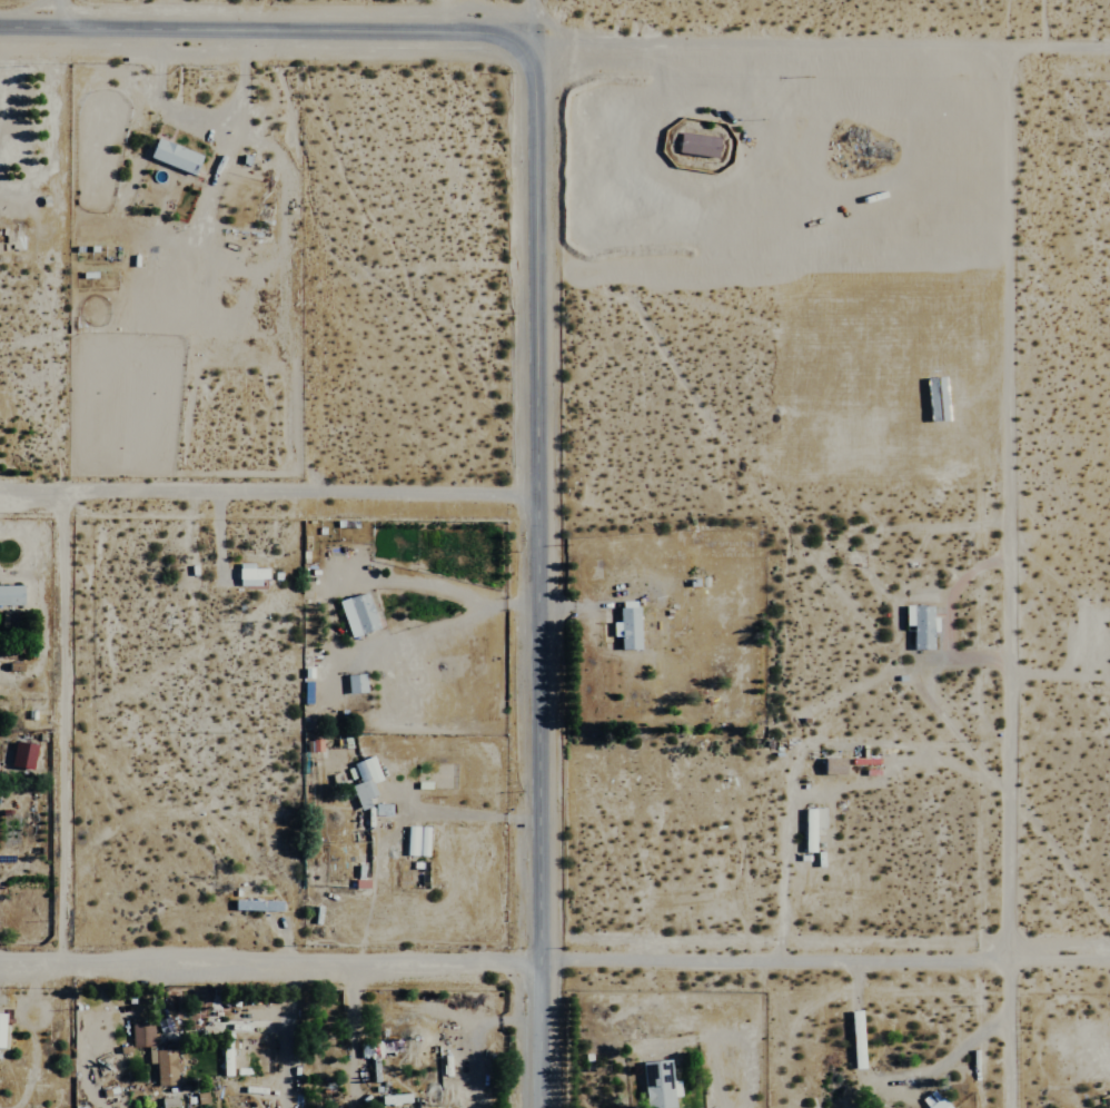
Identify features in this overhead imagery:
road: (67, 14)
road: (531, 20)
road: (265, 33)
road: (820, 40)
road: (198, 118)
road: (706, 119)
road: (267, 499)
road: (535, 503)
road: (999, 574)
road: (947, 616)
road: (76, 733)
road: (800, 759)
road: (474, 814)
road: (268, 970)
road: (822, 973)
road: (537, 1037)
road: (579, 1075)

